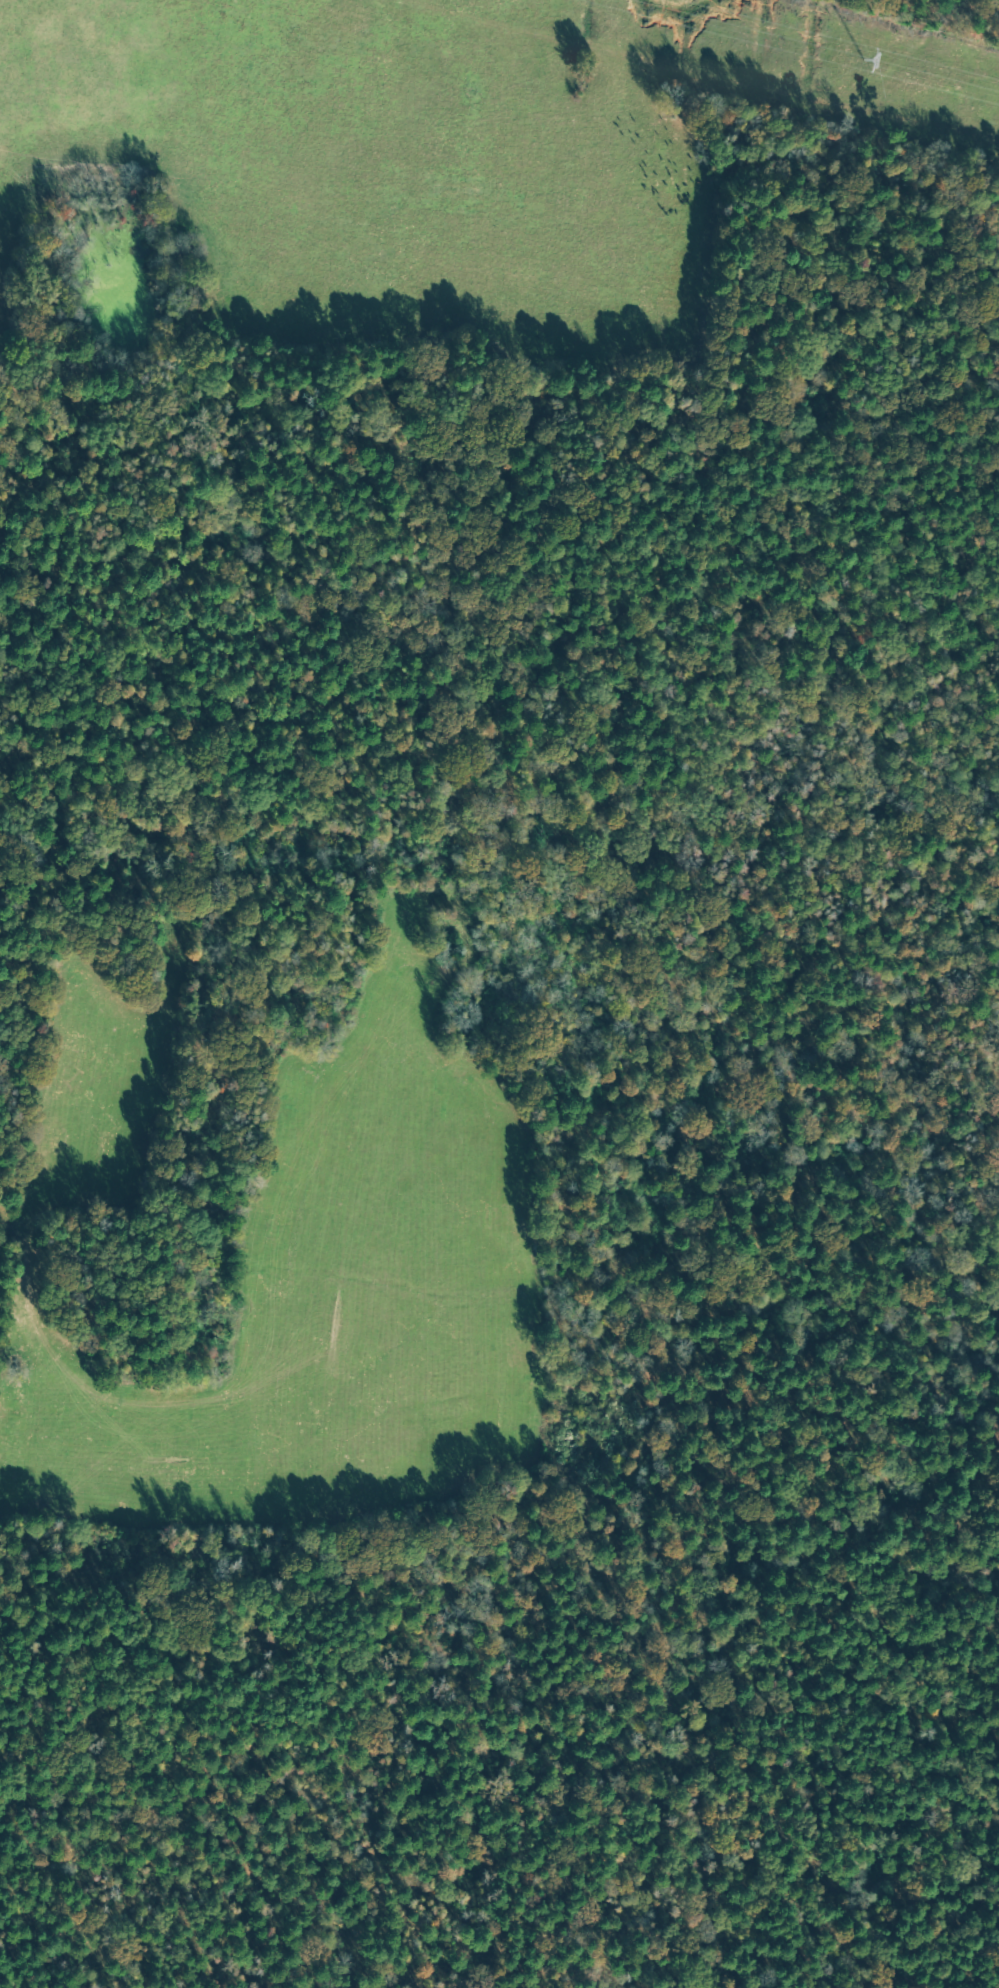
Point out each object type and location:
power tower: (861, 57)

